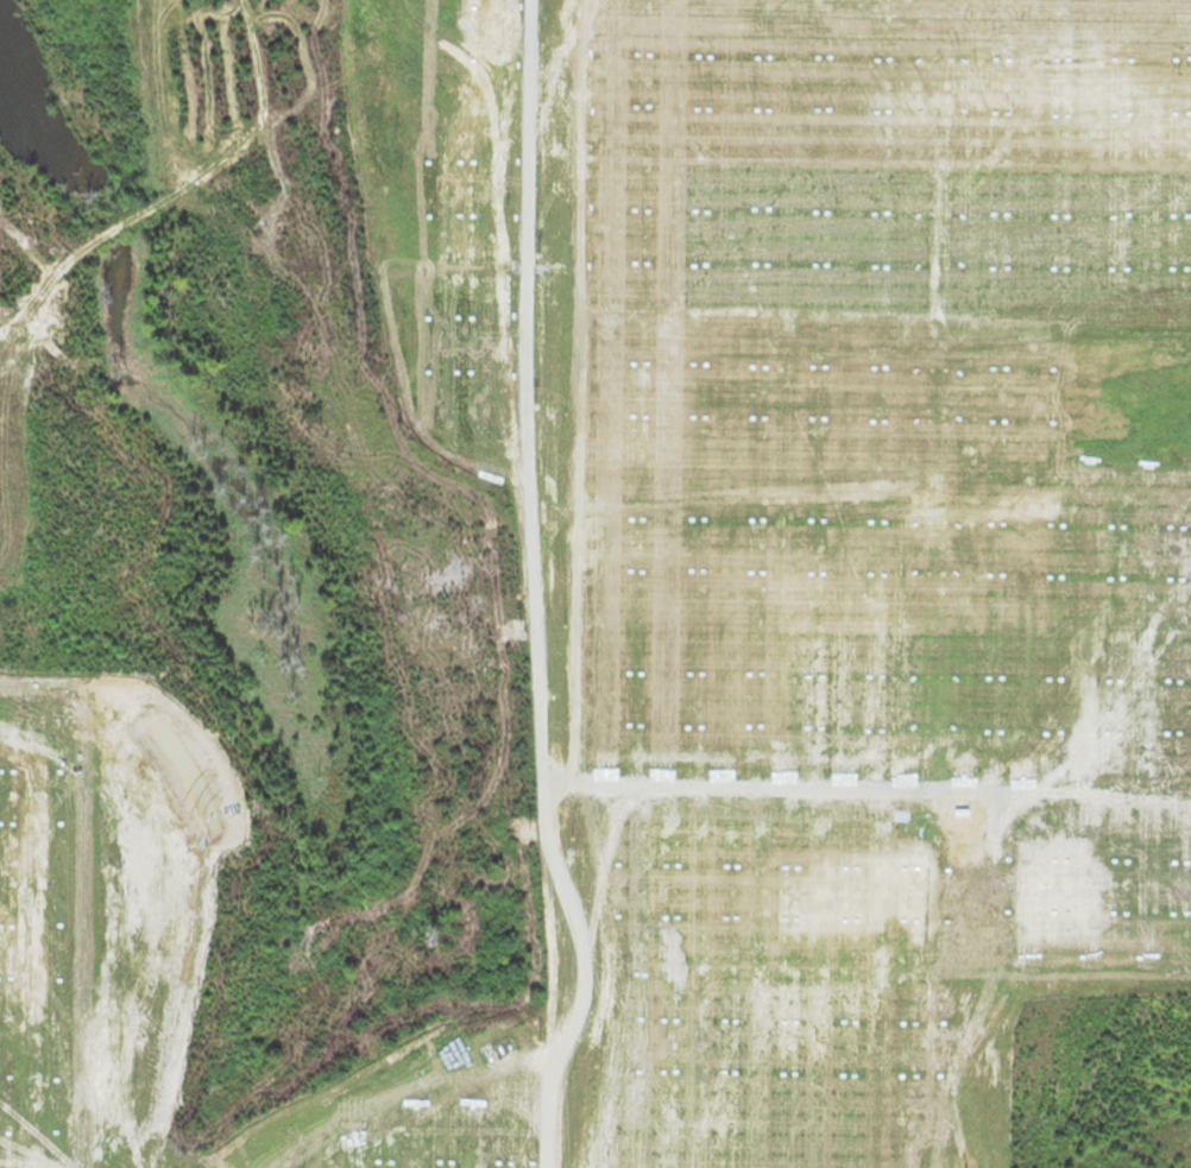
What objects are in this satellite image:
solar farm: (582, 570)
road: (531, 611)

